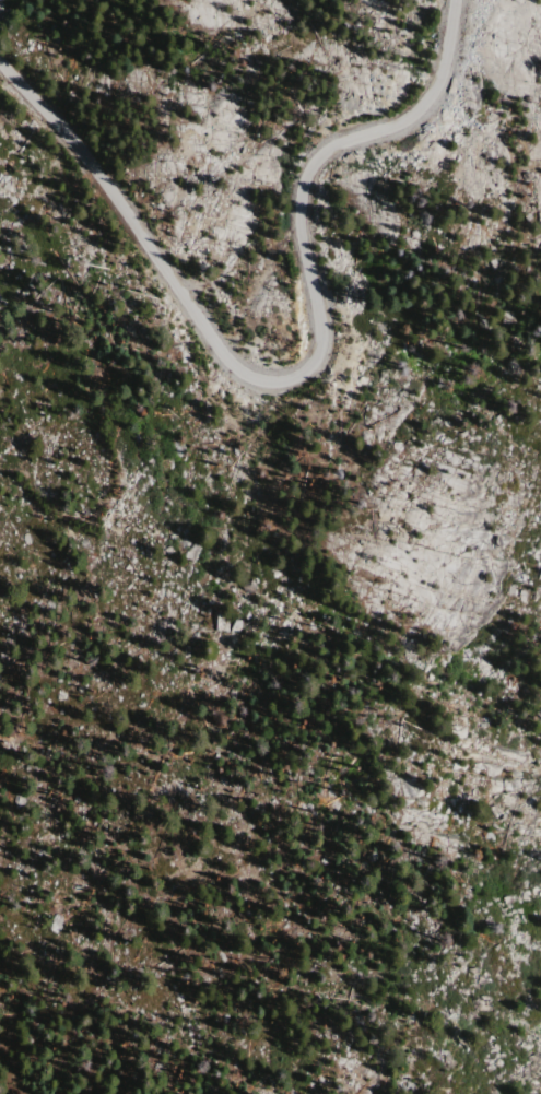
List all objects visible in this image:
road: (301, 370)

